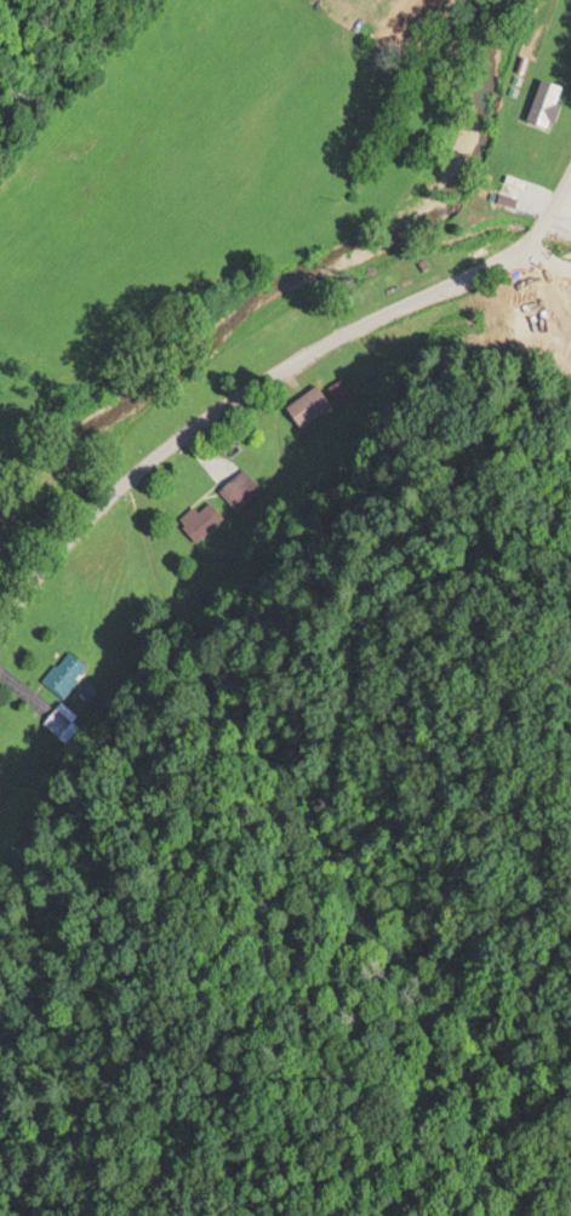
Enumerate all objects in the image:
building: (543, 99)
building: (479, 193)
river: (289, 275)
building: (533, 284)
building: (307, 405)
road: (291, 456)
building: (238, 487)
building: (199, 518)
building: (63, 672)
building: (56, 719)

